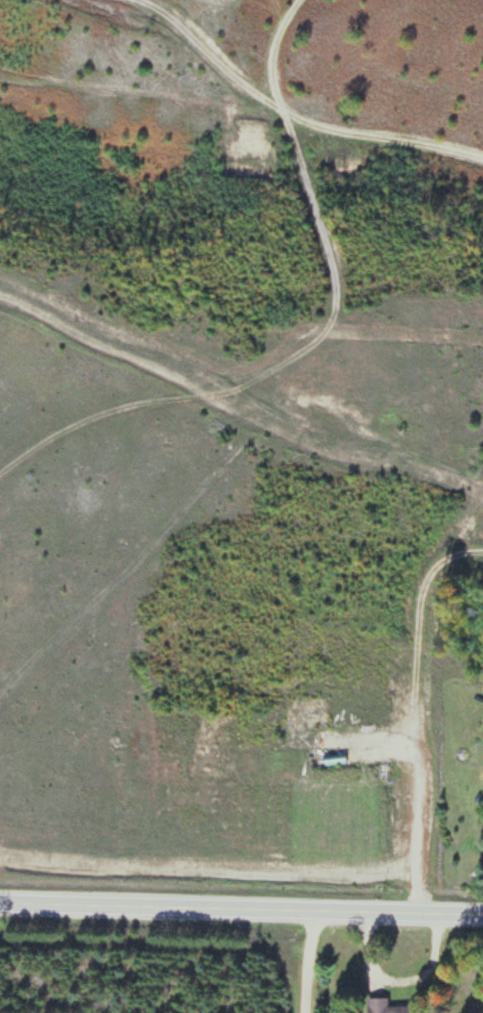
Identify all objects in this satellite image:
road: (241, 908)
road: (303, 961)
building: (386, 1006)

